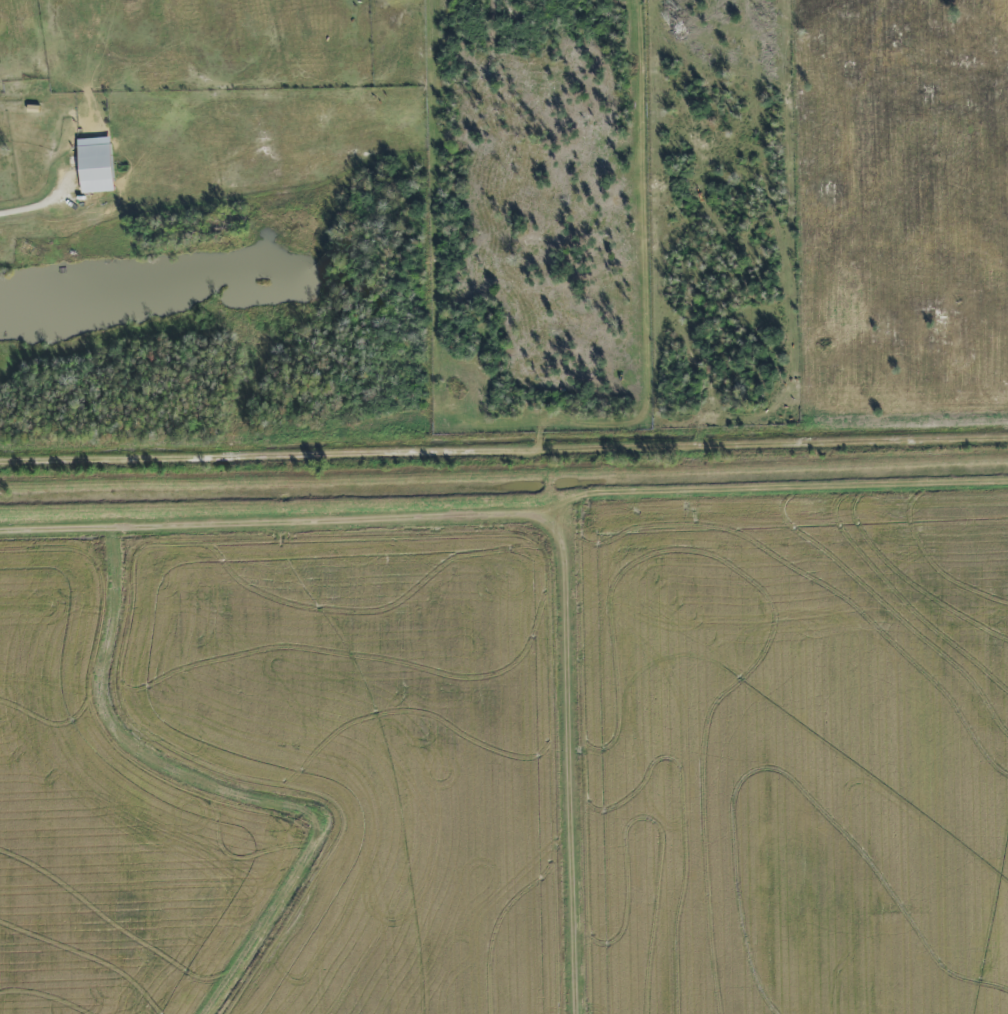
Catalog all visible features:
building: (95, 165)
road: (32, 209)
road: (549, 503)

